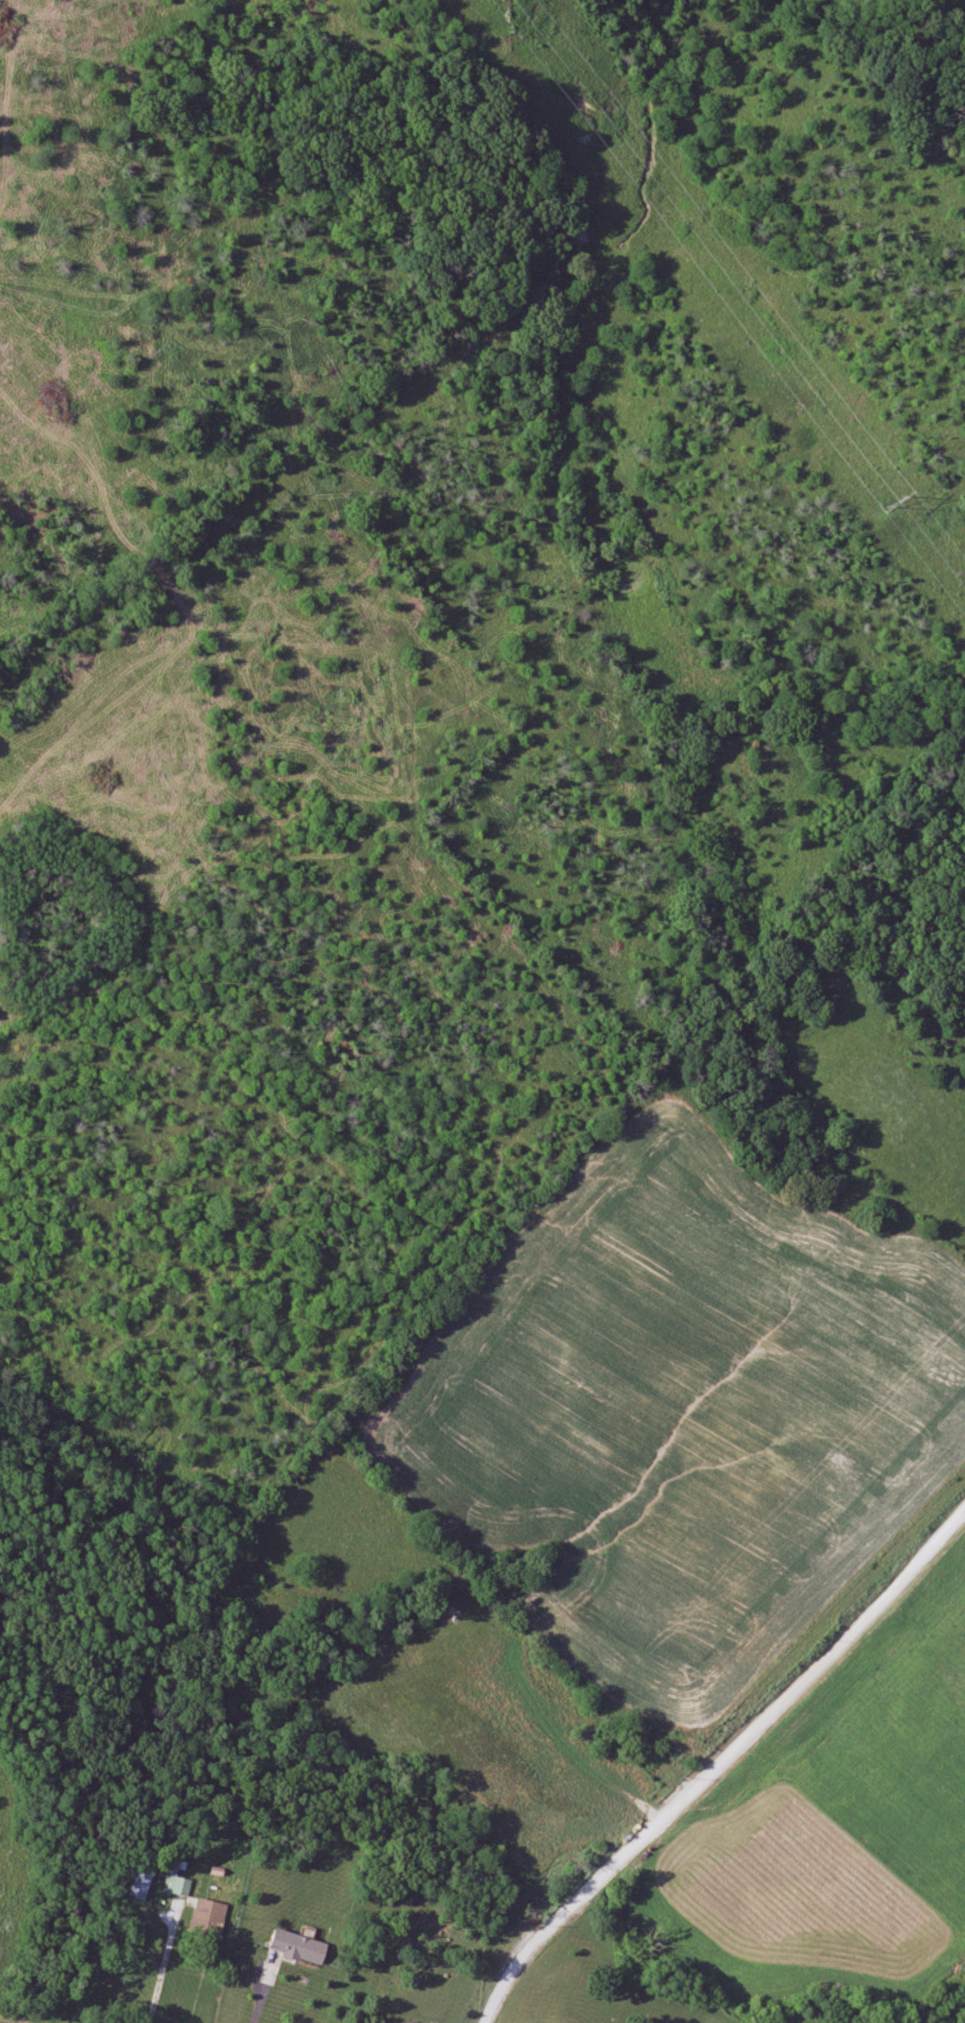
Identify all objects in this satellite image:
power tower: (894, 504)
crop: (686, 1410)
road: (721, 1763)
crop: (840, 1823)
crop: (12, 1881)
building: (177, 1883)
building: (141, 1886)
building: (209, 1918)
building: (299, 1948)
road: (162, 1962)

